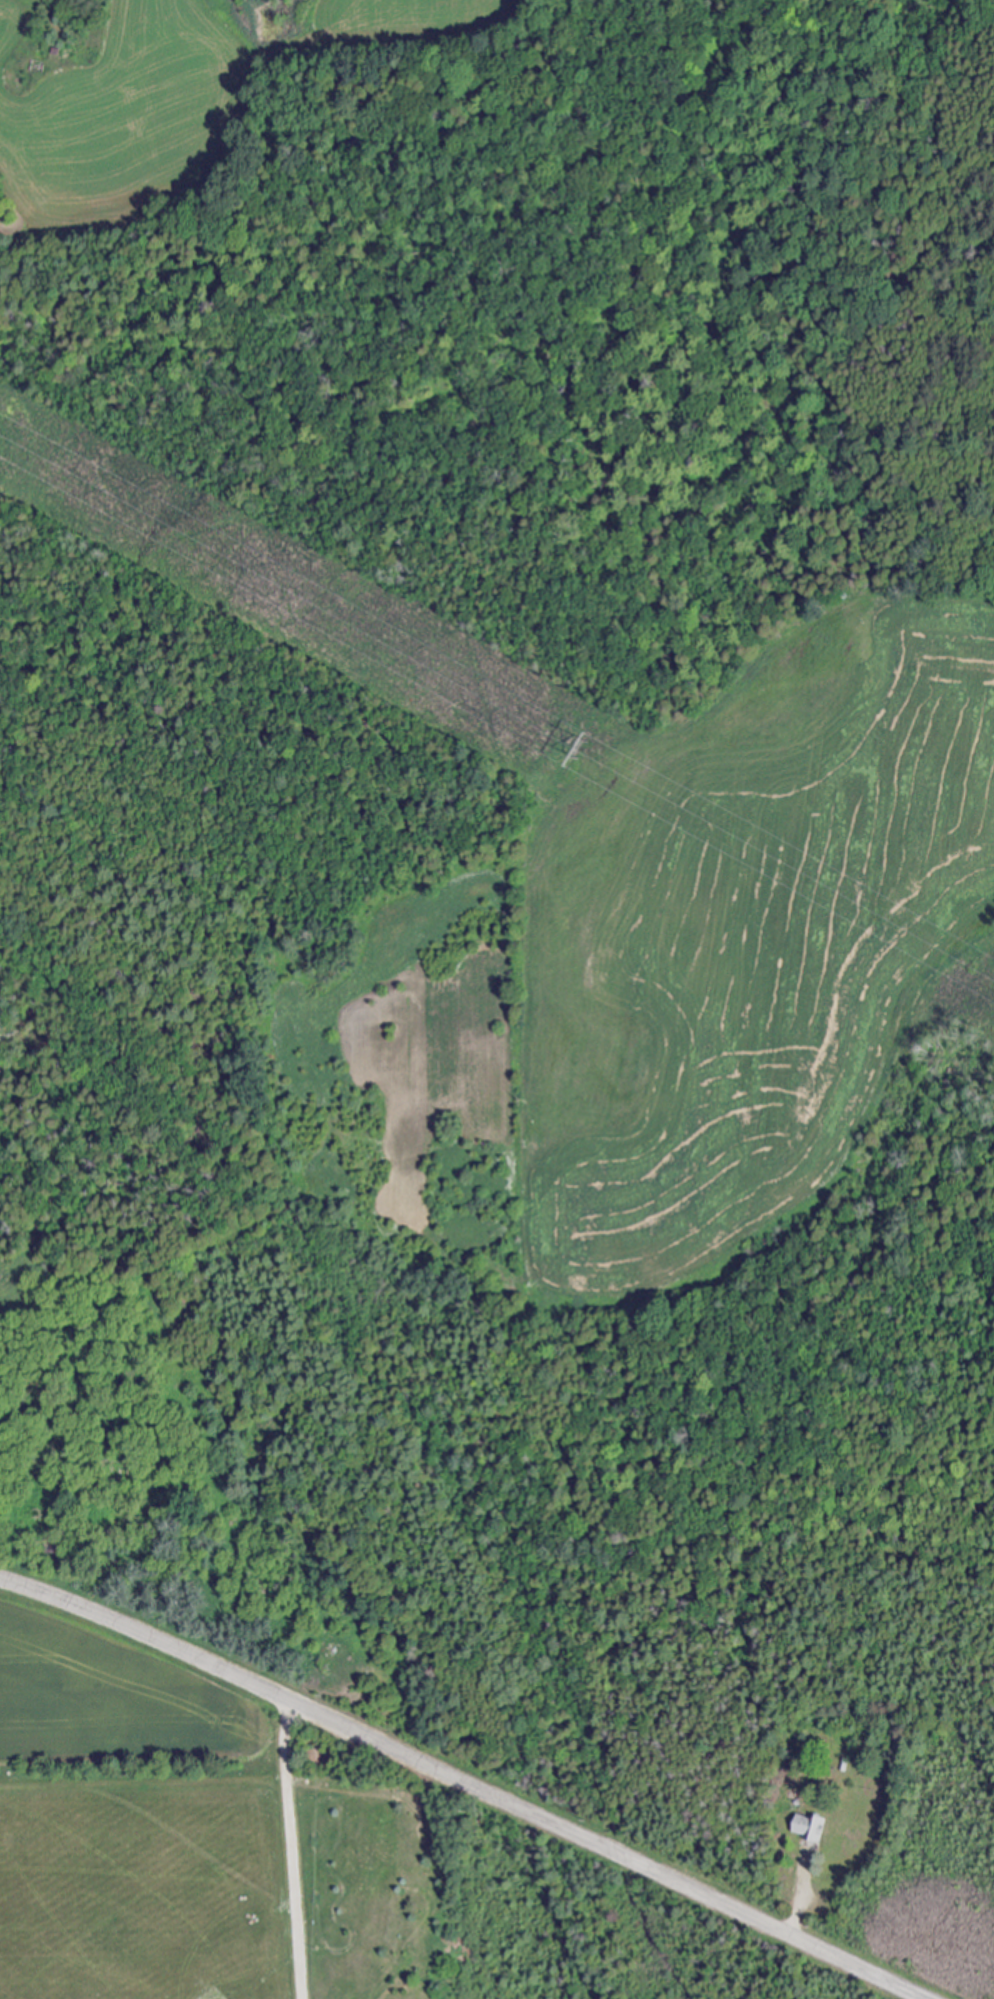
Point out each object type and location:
power tower: (580, 747)
road: (467, 1780)
building: (807, 1827)
road: (294, 1846)
road: (802, 1906)

